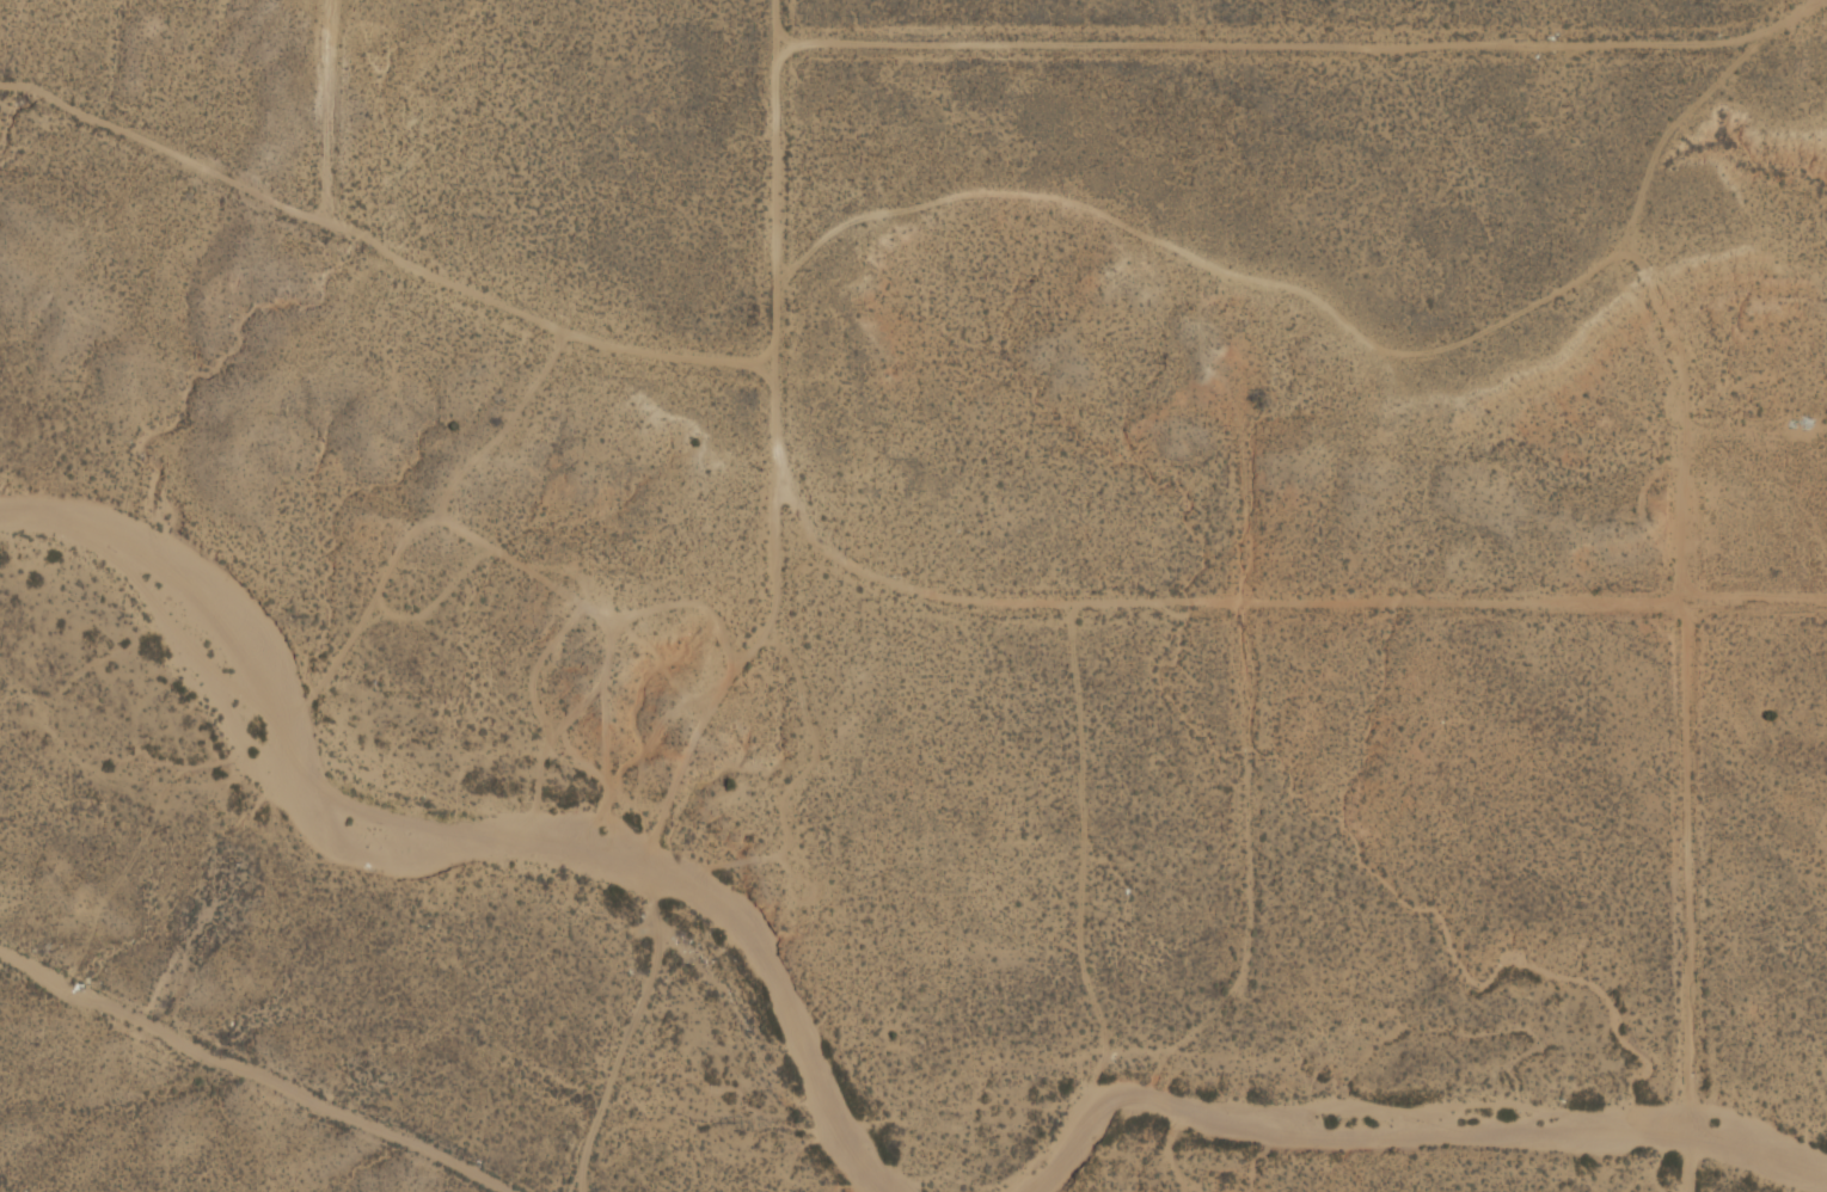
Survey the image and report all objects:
road: (775, 242)
road: (381, 251)
road: (778, 571)
road: (902, 586)
road: (251, 1074)

